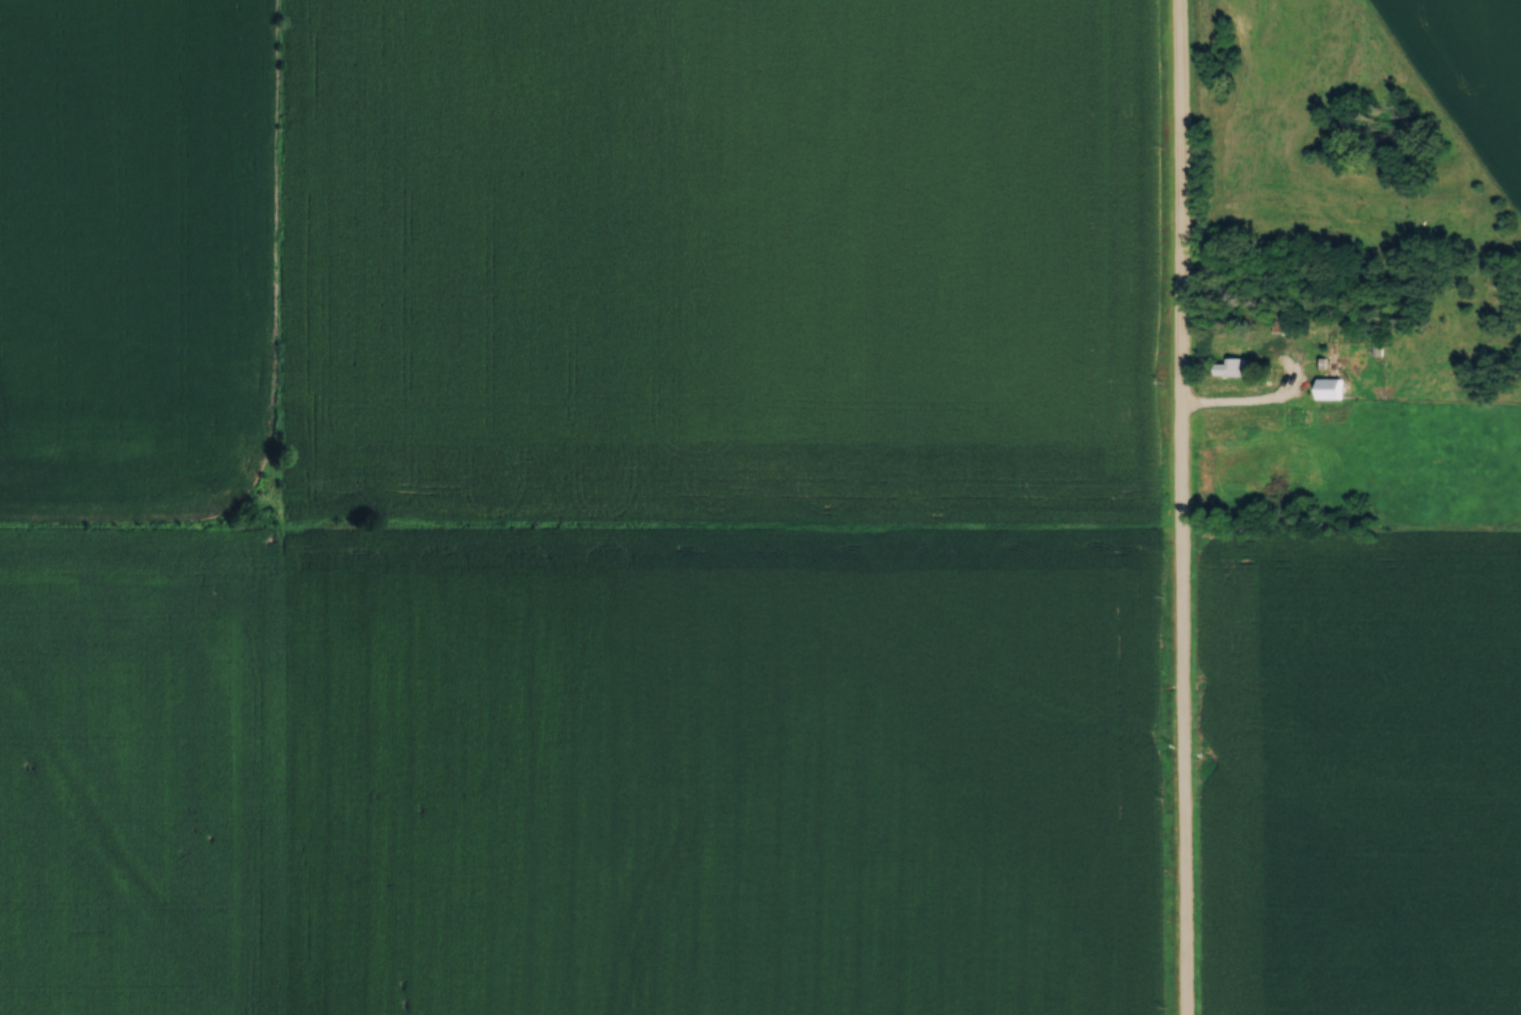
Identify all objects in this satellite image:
building: (1277, 320)
building: (1231, 364)
building: (1328, 384)
road: (1248, 401)
road: (1178, 507)

